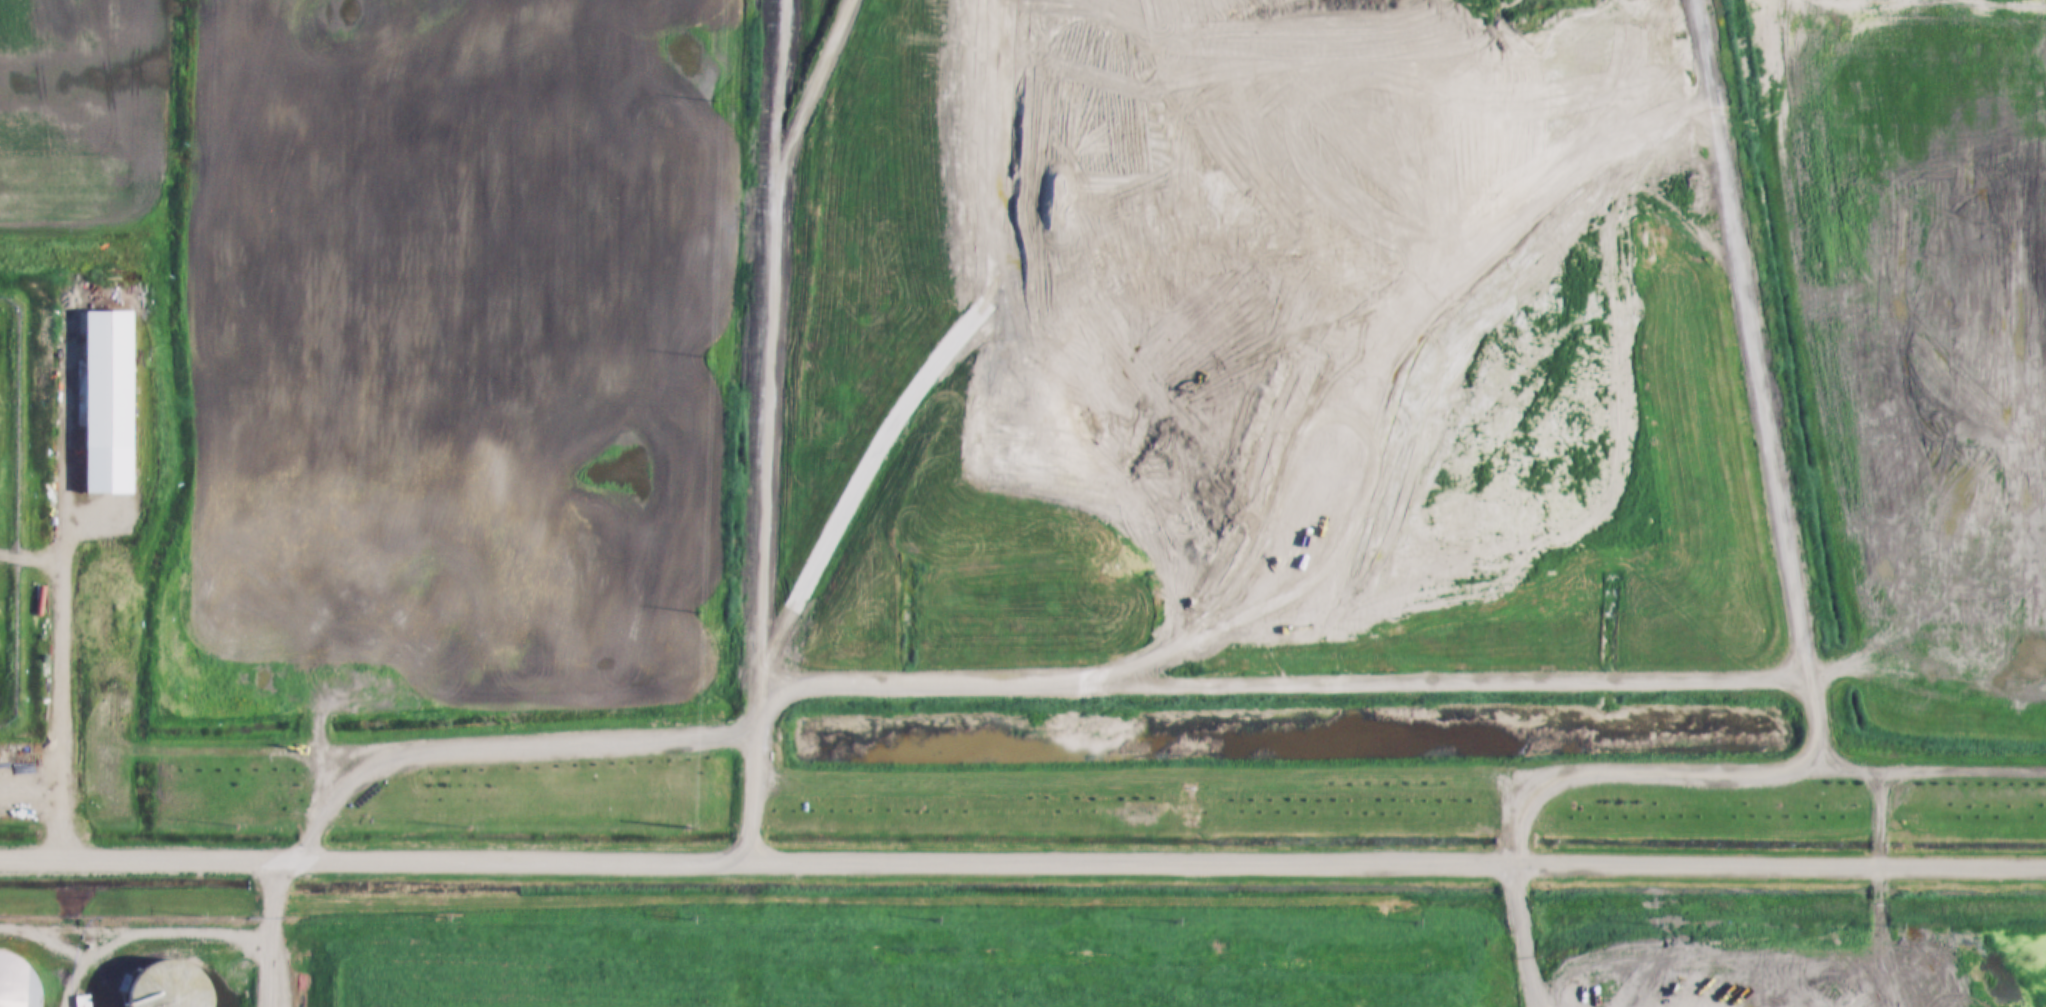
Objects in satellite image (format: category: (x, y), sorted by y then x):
crop: (80, 122)
crop: (1916, 341)
road: (772, 346)
crop: (452, 360)
building: (100, 404)
road: (59, 679)
road: (1618, 686)
road: (752, 776)
road: (1023, 861)
road: (268, 933)
road: (162, 947)
building: (19, 984)
storage tank: (19, 984)
building: (169, 985)
storage tank: (169, 985)

